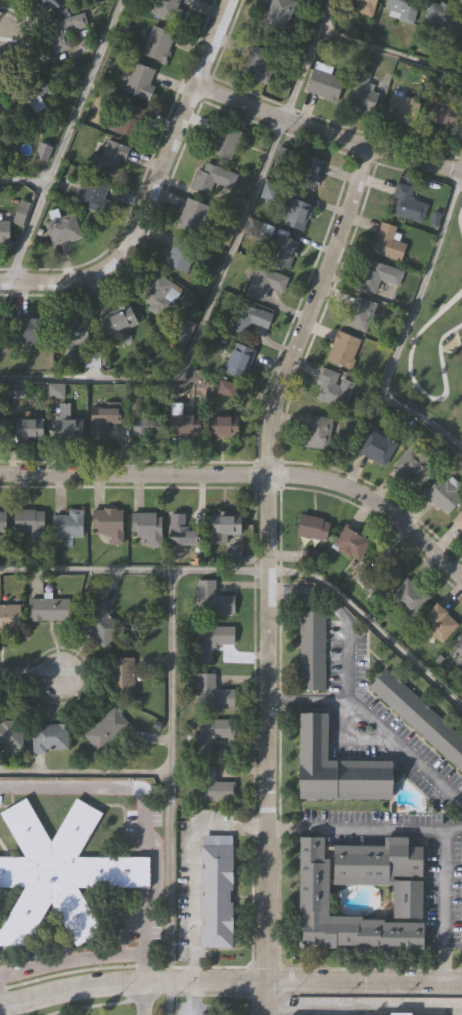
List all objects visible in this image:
building: (51, 5)
building: (360, 6)
building: (165, 9)
building: (402, 9)
building: (279, 14)
building: (436, 18)
building: (63, 32)
building: (158, 45)
road: (389, 53)
building: (256, 64)
building: (140, 82)
building: (323, 84)
building: (33, 91)
building: (359, 94)
building: (403, 108)
building: (127, 120)
road: (325, 135)
road: (64, 141)
building: (224, 142)
building: (111, 158)
building: (308, 172)
building: (210, 178)
road: (23, 180)
road: (152, 188)
building: (94, 195)
building: (408, 205)
building: (193, 215)
building: (297, 215)
building: (64, 230)
building: (4, 235)
building: (388, 243)
building: (284, 251)
building: (180, 254)
road: (220, 271)
building: (379, 276)
building: (265, 282)
building: (156, 294)
building: (358, 314)
building: (248, 318)
building: (119, 319)
building: (184, 328)
building: (75, 330)
road: (405, 330)
building: (28, 331)
park: (437, 337)
building: (344, 349)
building: (240, 360)
building: (334, 388)
building: (17, 391)
building: (106, 418)
building: (181, 420)
building: (147, 425)
building: (70, 428)
building: (226, 428)
building: (30, 429)
building: (1, 431)
building: (318, 432)
building: (377, 448)
building: (415, 467)
road: (248, 474)
building: (444, 496)
building: (29, 523)
building: (68, 524)
building: (109, 524)
building: (460, 524)
building: (227, 525)
building: (2, 527)
building: (147, 528)
building: (314, 528)
building: (182, 531)
building: (352, 544)
road: (256, 572)
road: (266, 574)
building: (378, 576)
building: (411, 597)
building: (212, 599)
building: (49, 610)
building: (10, 618)
building: (101, 624)
building: (440, 624)
building: (211, 638)
building: (312, 650)
building: (457, 650)
road: (30, 675)
building: (122, 675)
building: (212, 690)
road: (345, 690)
road: (306, 699)
building: (419, 717)
building: (105, 730)
building: (11, 734)
building: (211, 734)
building: (49, 738)
road: (349, 741)
road: (169, 753)
building: (337, 764)
building: (212, 785)
road: (145, 817)
road: (363, 829)
building: (58, 870)
road: (192, 870)
building: (385, 870)
building: (314, 883)
building: (217, 889)
road: (444, 905)
building: (461, 924)
road: (74, 958)
road: (229, 980)
road: (145, 997)
road: (192, 997)
building: (403, 1012)

